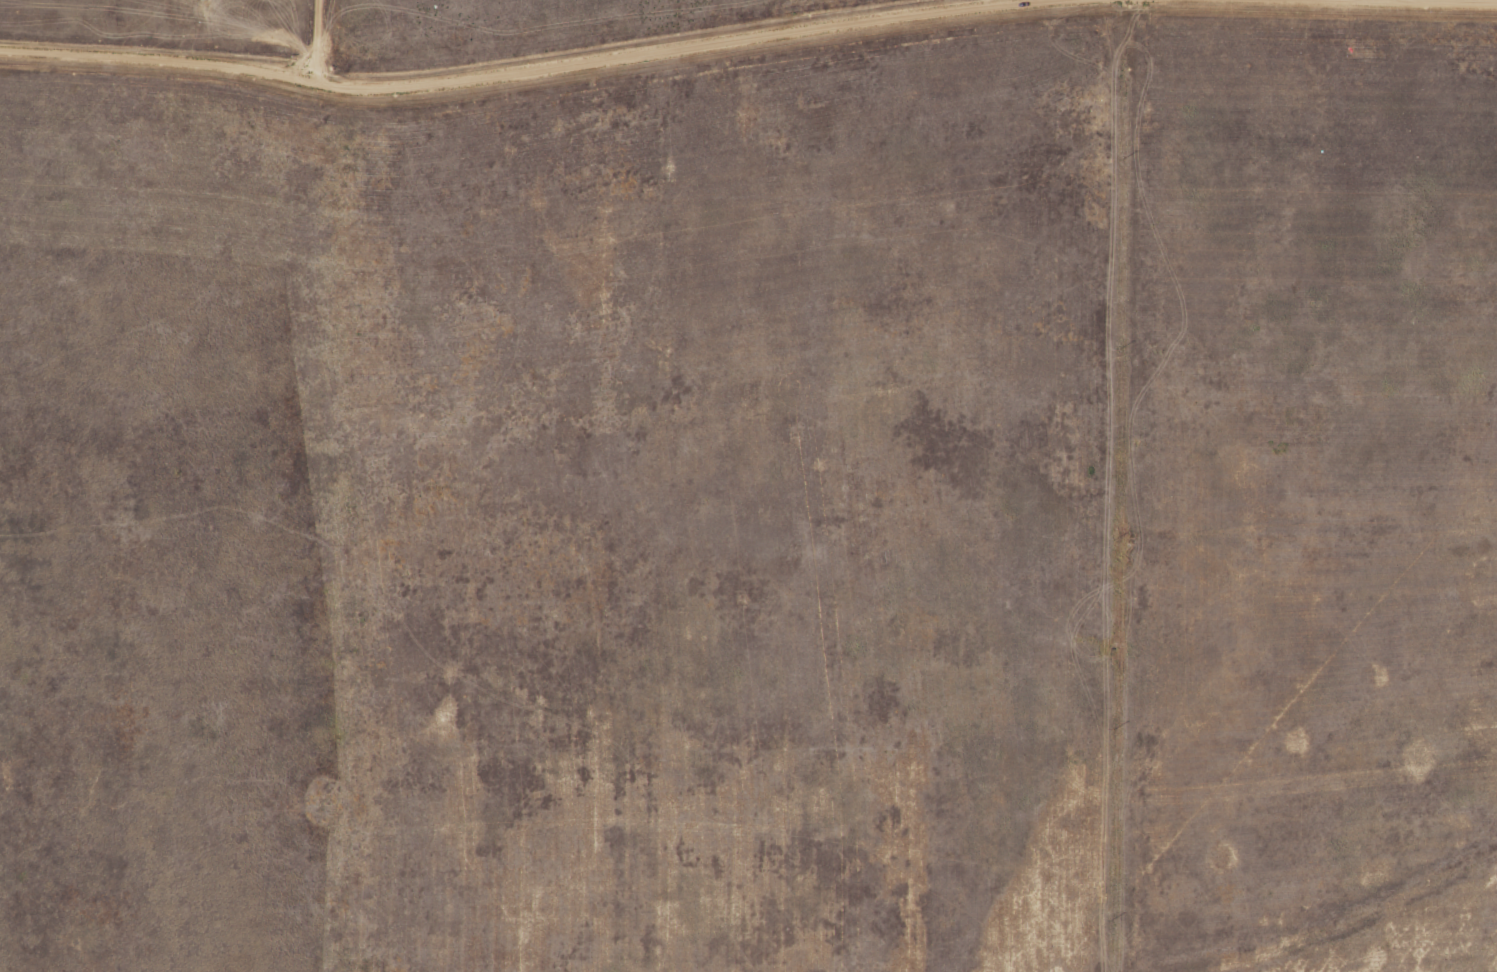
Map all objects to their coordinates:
road: (337, 41)
road: (522, 70)

